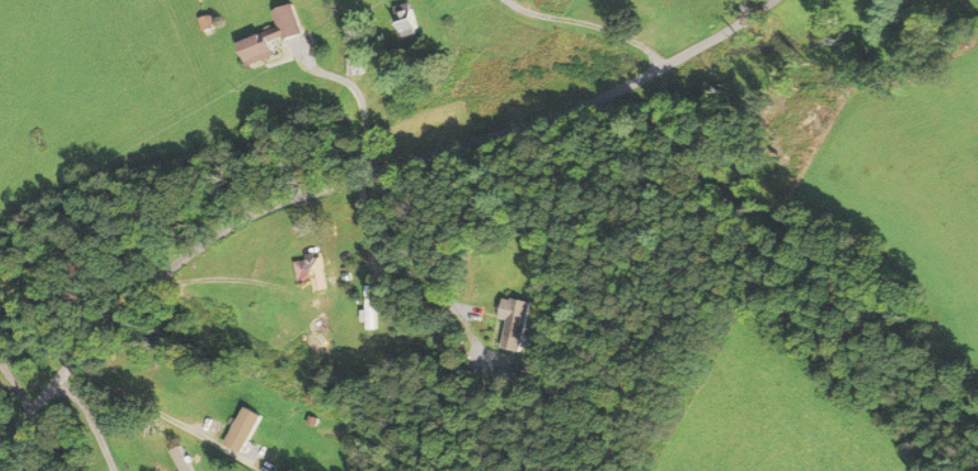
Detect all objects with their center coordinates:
building: (408, 19)
building: (206, 24)
building: (259, 48)
building: (355, 66)
road: (369, 168)
building: (310, 266)
road: (390, 283)
building: (515, 322)
building: (251, 419)
building: (269, 456)

